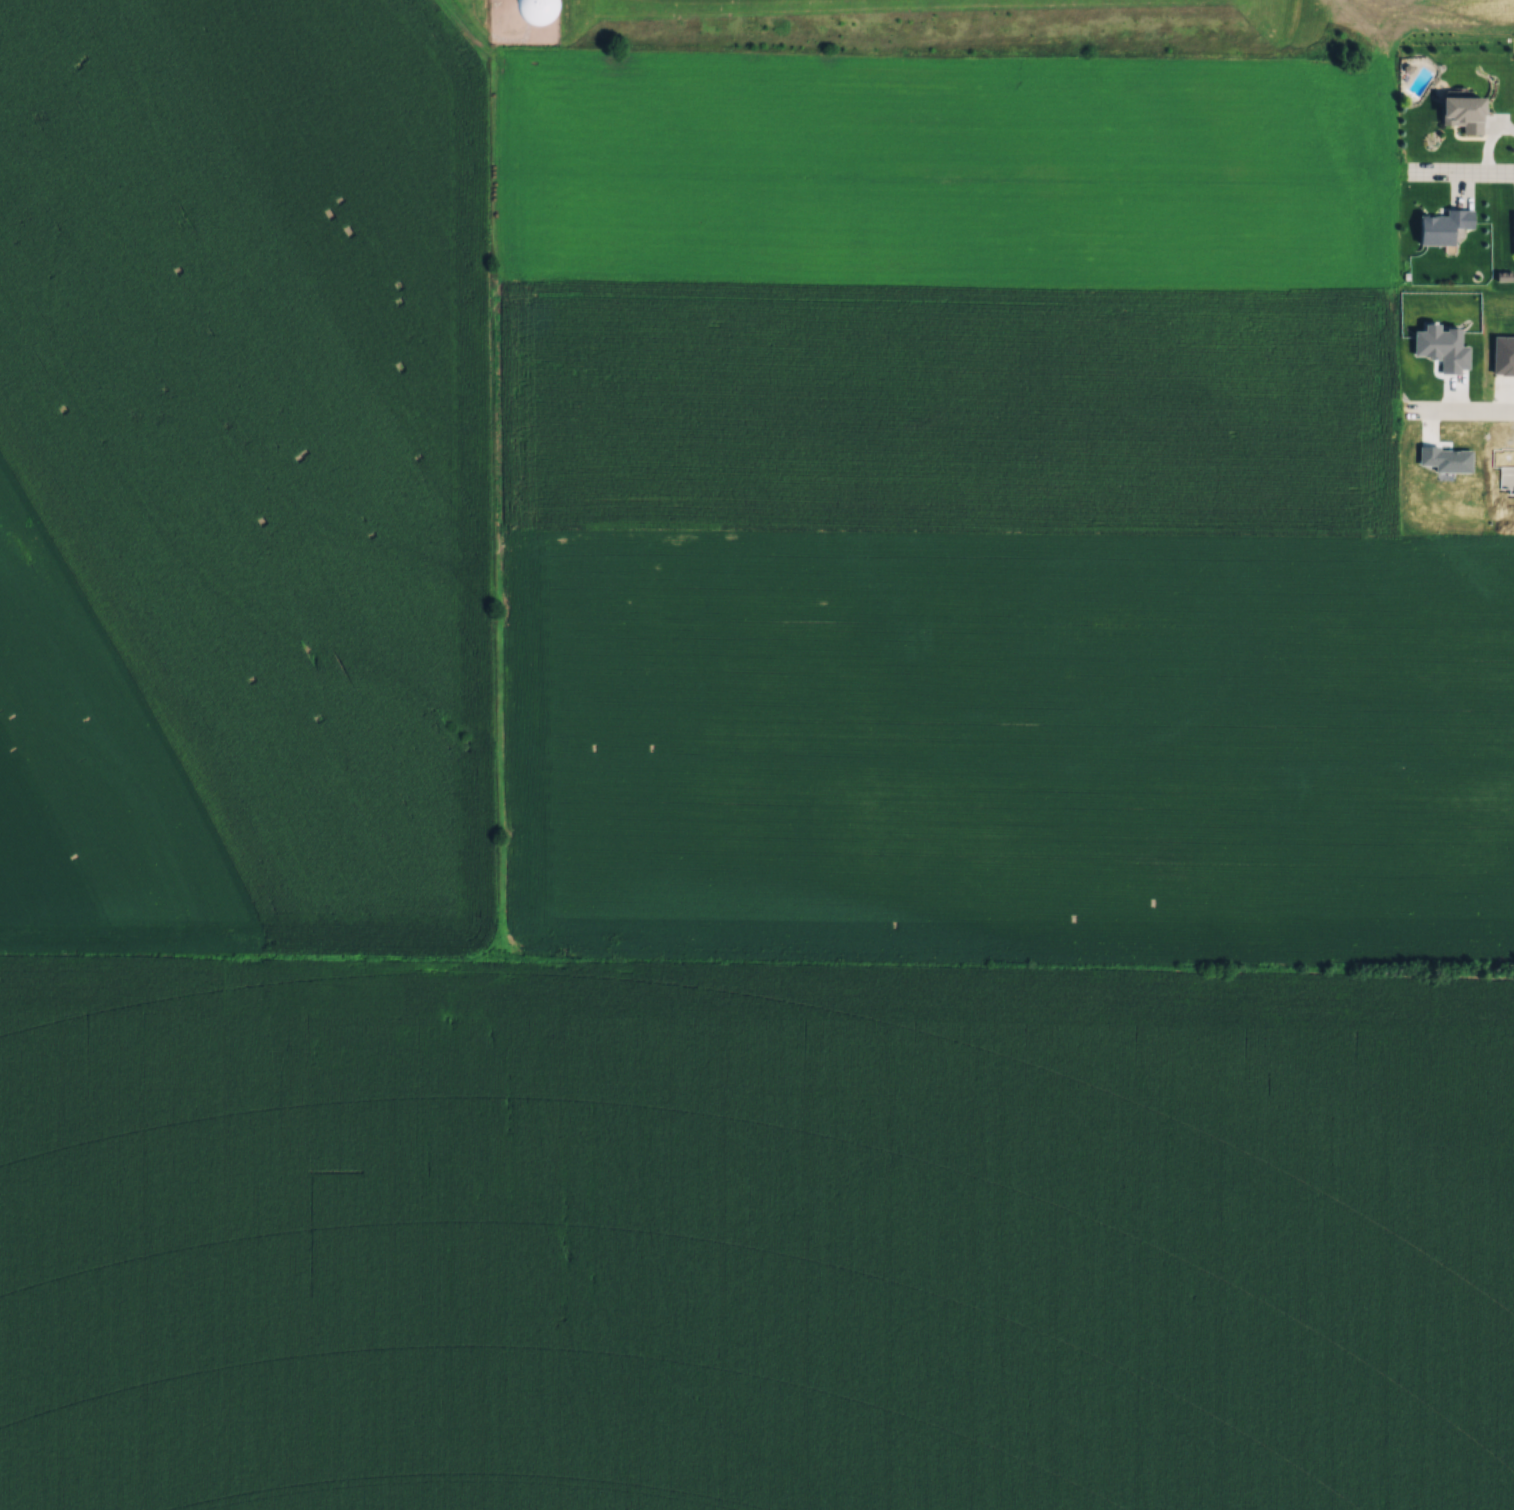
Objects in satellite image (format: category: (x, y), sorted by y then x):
building: (1459, 112)
road: (1462, 168)
road: (1463, 411)

